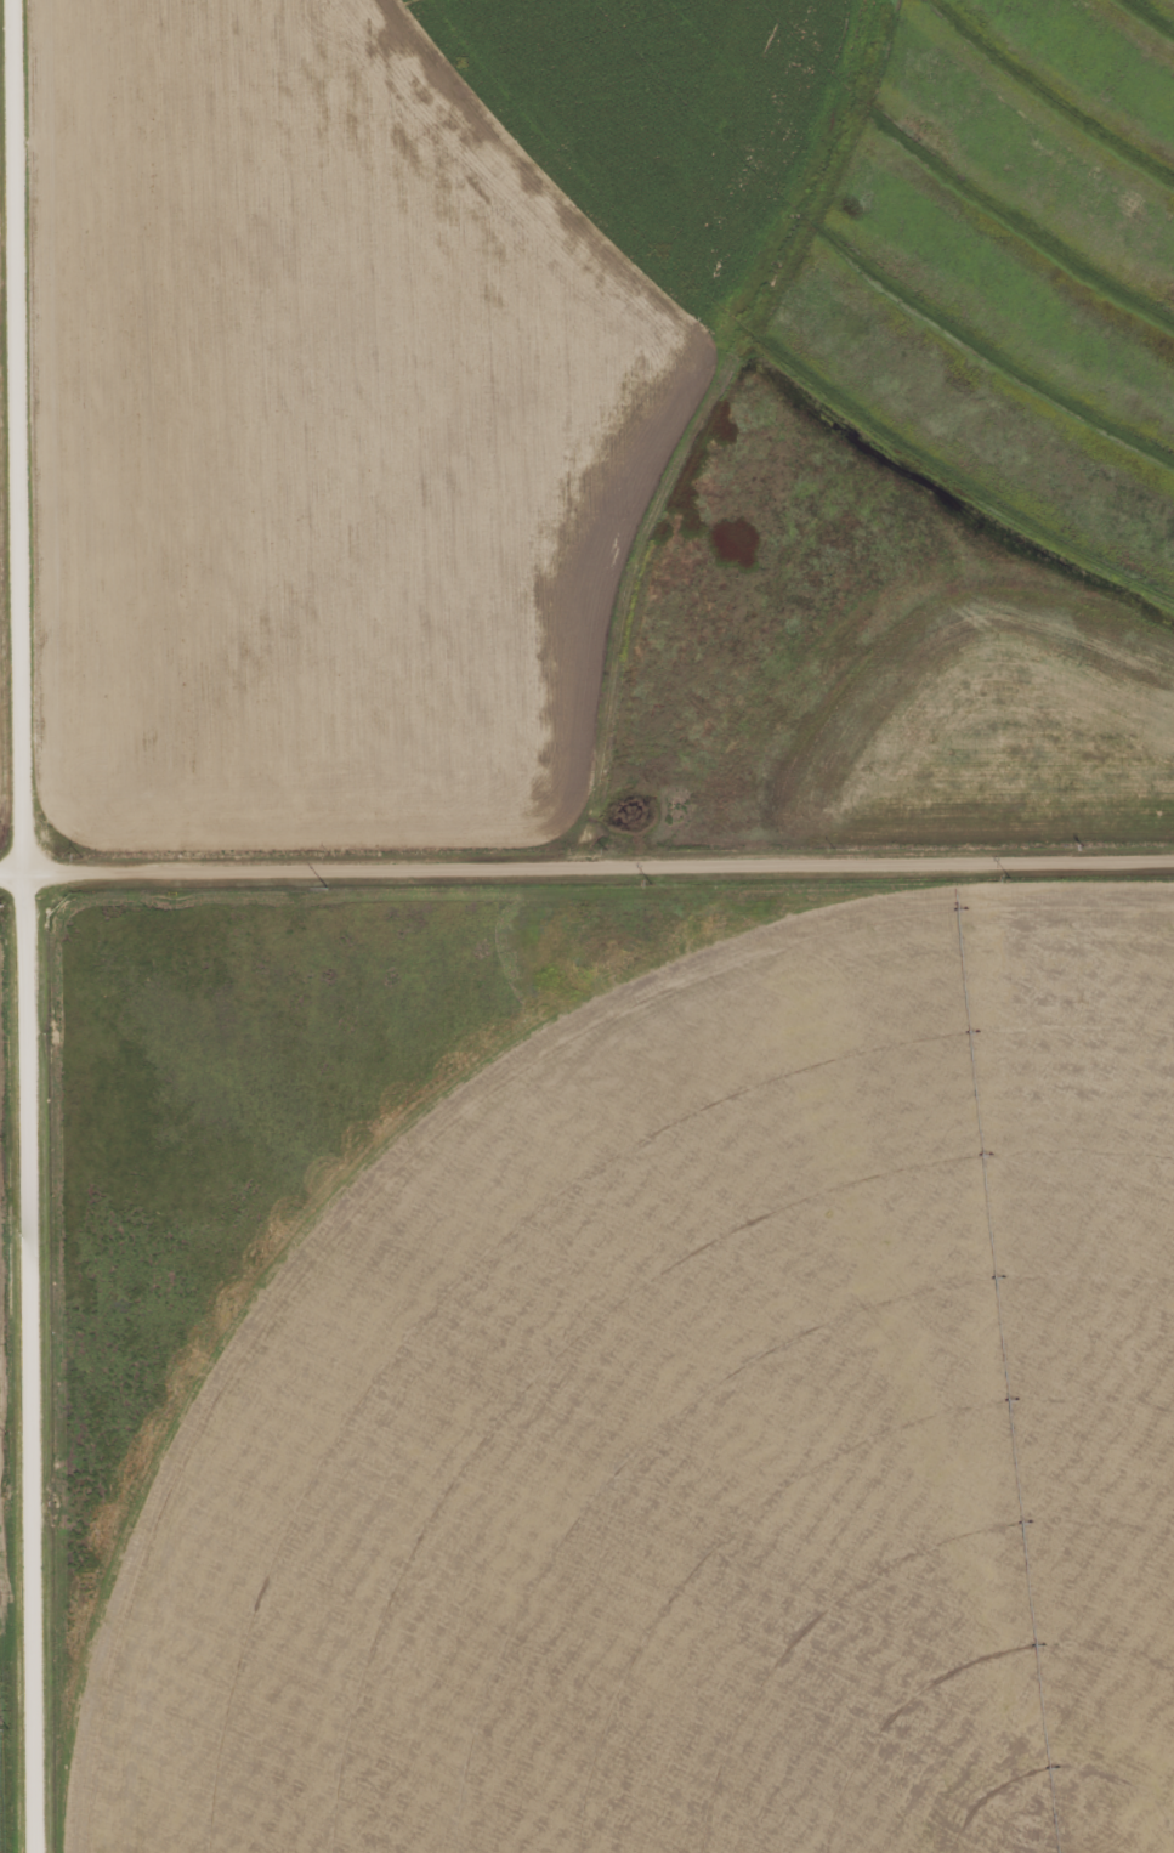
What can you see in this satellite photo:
road: (586, 862)
road: (28, 925)

